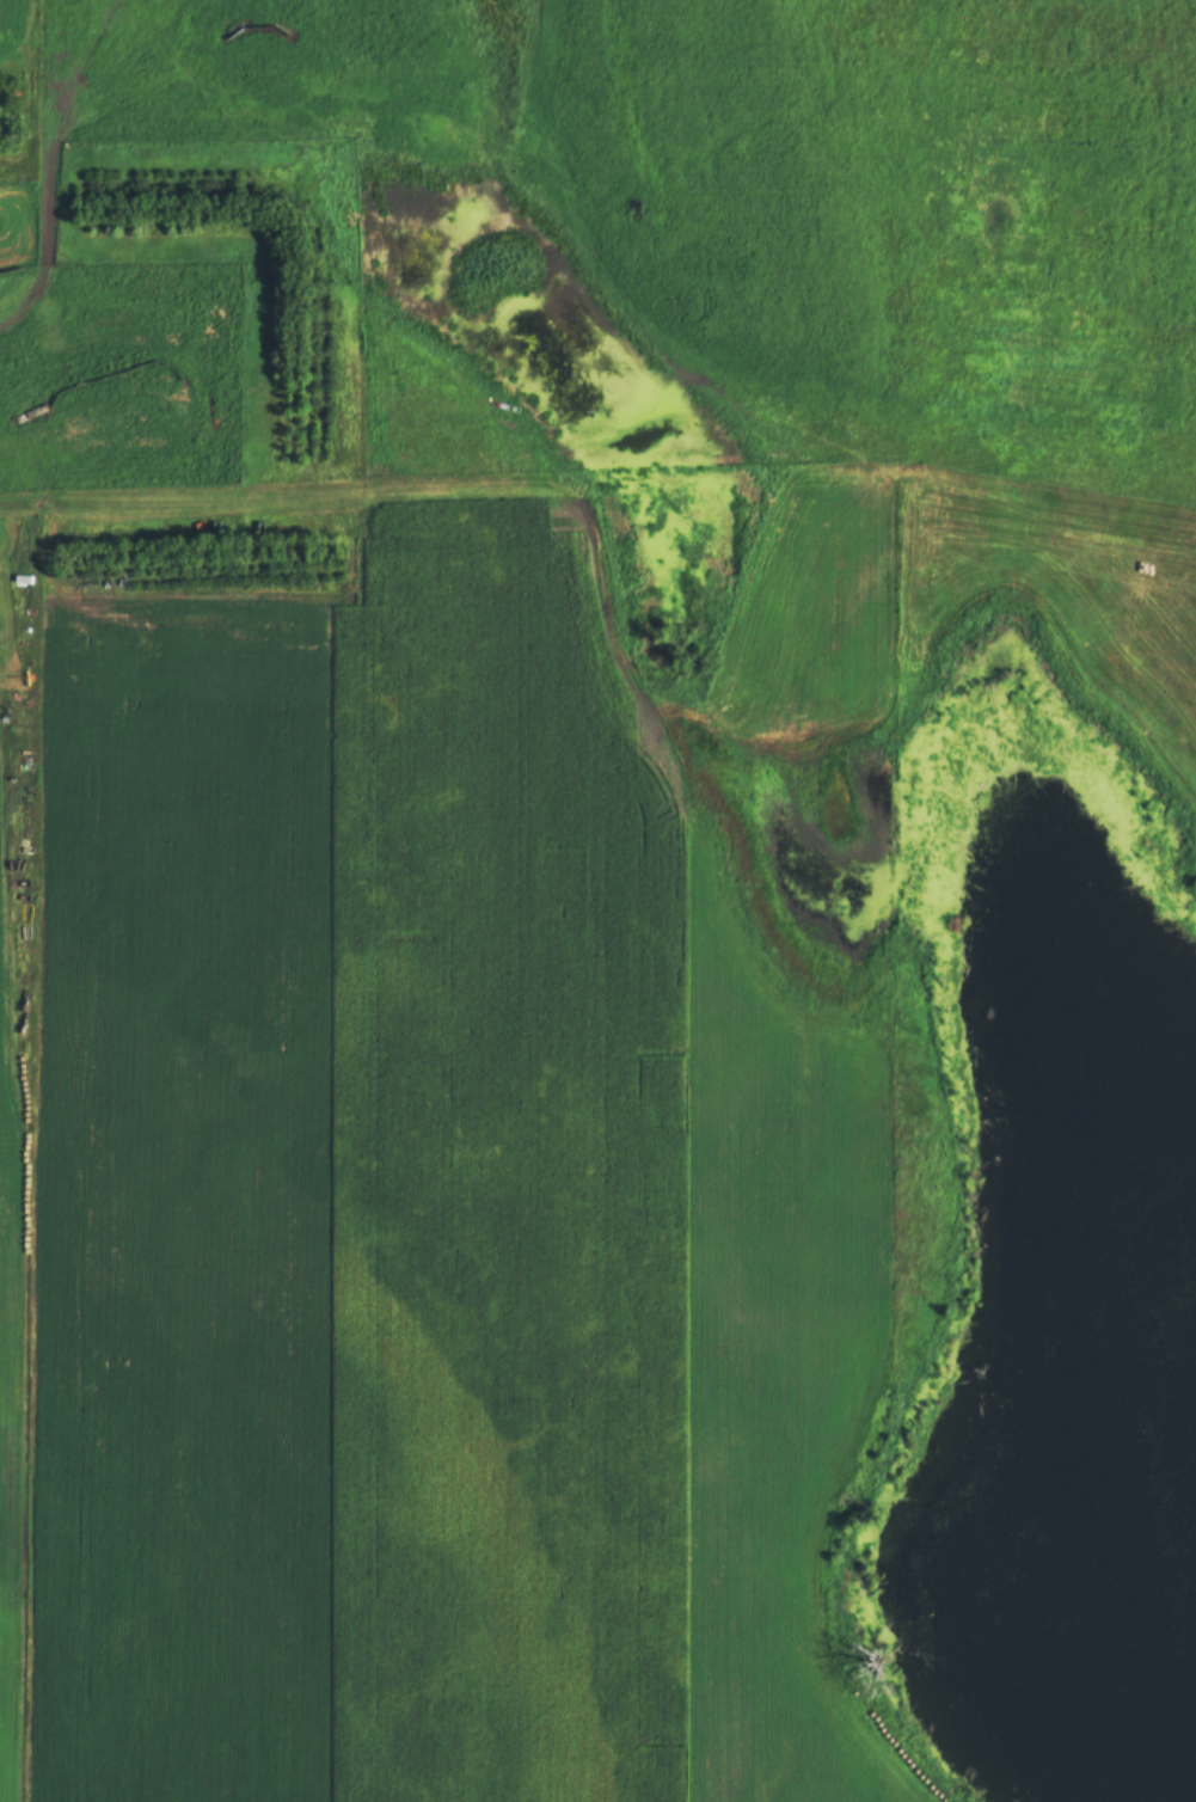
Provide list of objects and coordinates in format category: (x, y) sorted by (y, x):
road: (211, 499)
building: (435, 554)
building: (618, 1471)

